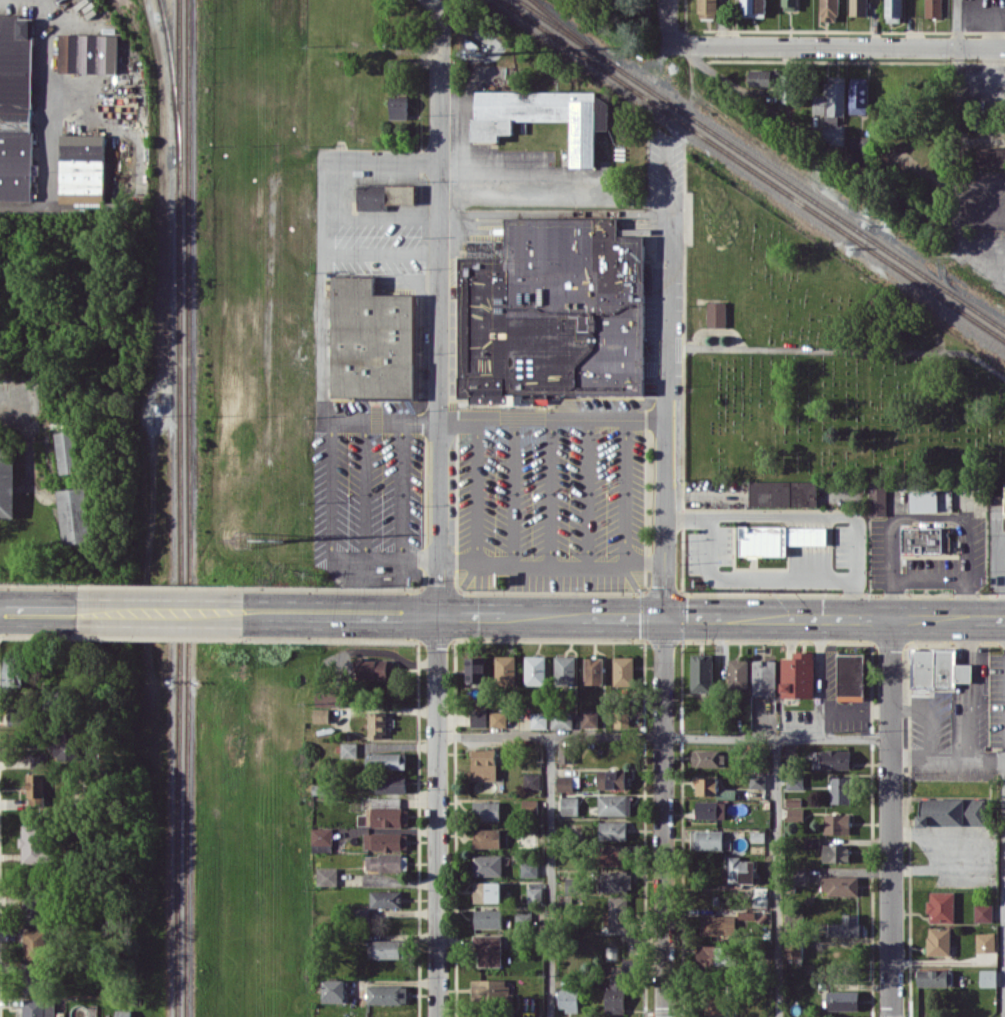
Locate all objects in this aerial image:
building: (790, 4)
building: (706, 8)
building: (753, 8)
building: (933, 8)
building: (829, 10)
building: (893, 10)
road: (669, 22)
railway: (575, 32)
road: (837, 47)
building: (88, 53)
building: (764, 77)
railway: (172, 79)
road: (439, 79)
building: (858, 95)
building: (16, 107)
building: (399, 107)
building: (832, 109)
road: (957, 113)
building: (544, 117)
building: (860, 144)
building: (991, 156)
road: (379, 159)
railway: (762, 163)
building: (82, 168)
railway: (753, 169)
building: (384, 195)
road: (379, 253)
road: (992, 255)
road: (320, 288)
building: (553, 312)
building: (716, 314)
building: (371, 341)
park: (820, 361)
road: (664, 374)
road: (491, 419)
road: (27, 433)
building: (64, 451)
building: (6, 481)
road: (331, 488)
road: (365, 488)
road: (401, 489)
road: (475, 489)
road: (512, 489)
road: (547, 489)
road: (587, 489)
road: (624, 489)
building: (783, 493)
building: (877, 498)
building: (931, 500)
railway: (178, 508)
railway: (187, 508)
road: (808, 513)
road: (929, 515)
building: (71, 516)
power tower: (281, 537)
building: (777, 538)
building: (924, 539)
road: (999, 557)
road: (384, 558)
road: (551, 560)
road: (758, 576)
road: (928, 577)
road: (439, 588)
road: (39, 610)
road: (162, 612)
road: (455, 615)
traffic signals: (663, 617)
road: (833, 617)
building: (375, 668)
building: (475, 668)
building: (506, 669)
building: (536, 669)
building: (938, 669)
building: (13, 670)
building: (565, 670)
building: (594, 670)
building: (624, 670)
building: (702, 672)
building: (738, 672)
building: (798, 675)
building: (851, 676)
building: (764, 677)
road: (972, 688)
building: (329, 697)
building: (321, 715)
building: (480, 717)
building: (590, 717)
road: (929, 717)
building: (499, 718)
building: (539, 720)
building: (562, 721)
building: (377, 724)
road: (663, 736)
building: (67, 746)
building: (567, 753)
building: (708, 758)
building: (836, 758)
road: (947, 758)
building: (39, 759)
building: (386, 760)
building: (485, 764)
building: (613, 779)
building: (533, 780)
building: (758, 780)
building: (795, 782)
building: (391, 783)
building: (565, 783)
building: (707, 786)
building: (35, 789)
building: (841, 789)
building: (727, 793)
building: (615, 804)
building: (530, 805)
building: (570, 805)
building: (711, 809)
building: (487, 810)
building: (953, 811)
building: (384, 813)
building: (796, 813)
road: (663, 817)
road: (890, 817)
building: (837, 823)
building: (613, 830)
building: (487, 837)
building: (321, 839)
building: (707, 839)
building: (385, 841)
building: (812, 842)
building: (33, 843)
building: (836, 852)
building: (613, 855)
building: (383, 862)
building: (487, 864)
building: (529, 868)
building: (741, 870)
building: (327, 876)
road: (551, 876)
road: (777, 876)
building: (800, 876)
building: (614, 881)
building: (571, 884)
building: (840, 885)
road: (1004, 887)
building: (487, 891)
building: (534, 894)
building: (760, 896)
building: (386, 898)
building: (941, 906)
building: (34, 910)
building: (618, 913)
building: (983, 913)
building: (487, 918)
building: (718, 924)
building: (848, 926)
building: (939, 941)
building: (985, 942)
building: (34, 944)
building: (386, 948)
building: (794, 948)
building: (488, 950)
building: (714, 954)
road: (1004, 965)
building: (934, 977)
building: (988, 977)
building: (34, 978)
building: (619, 986)
building: (490, 989)
building: (333, 990)
building: (387, 994)
building: (568, 999)
building: (843, 1000)
building: (713, 1003)
building: (39, 1007)
building: (123, 1013)

